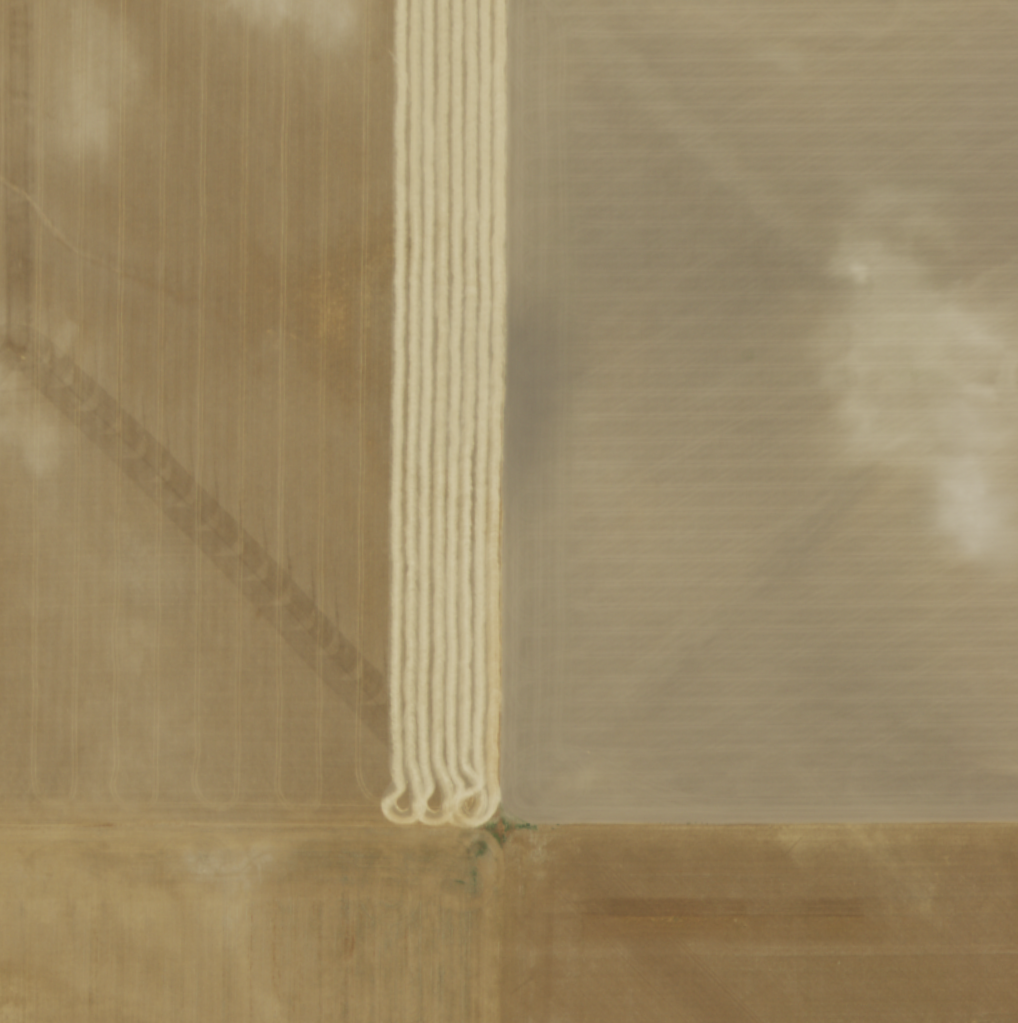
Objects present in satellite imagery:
crop: (509, 511)

